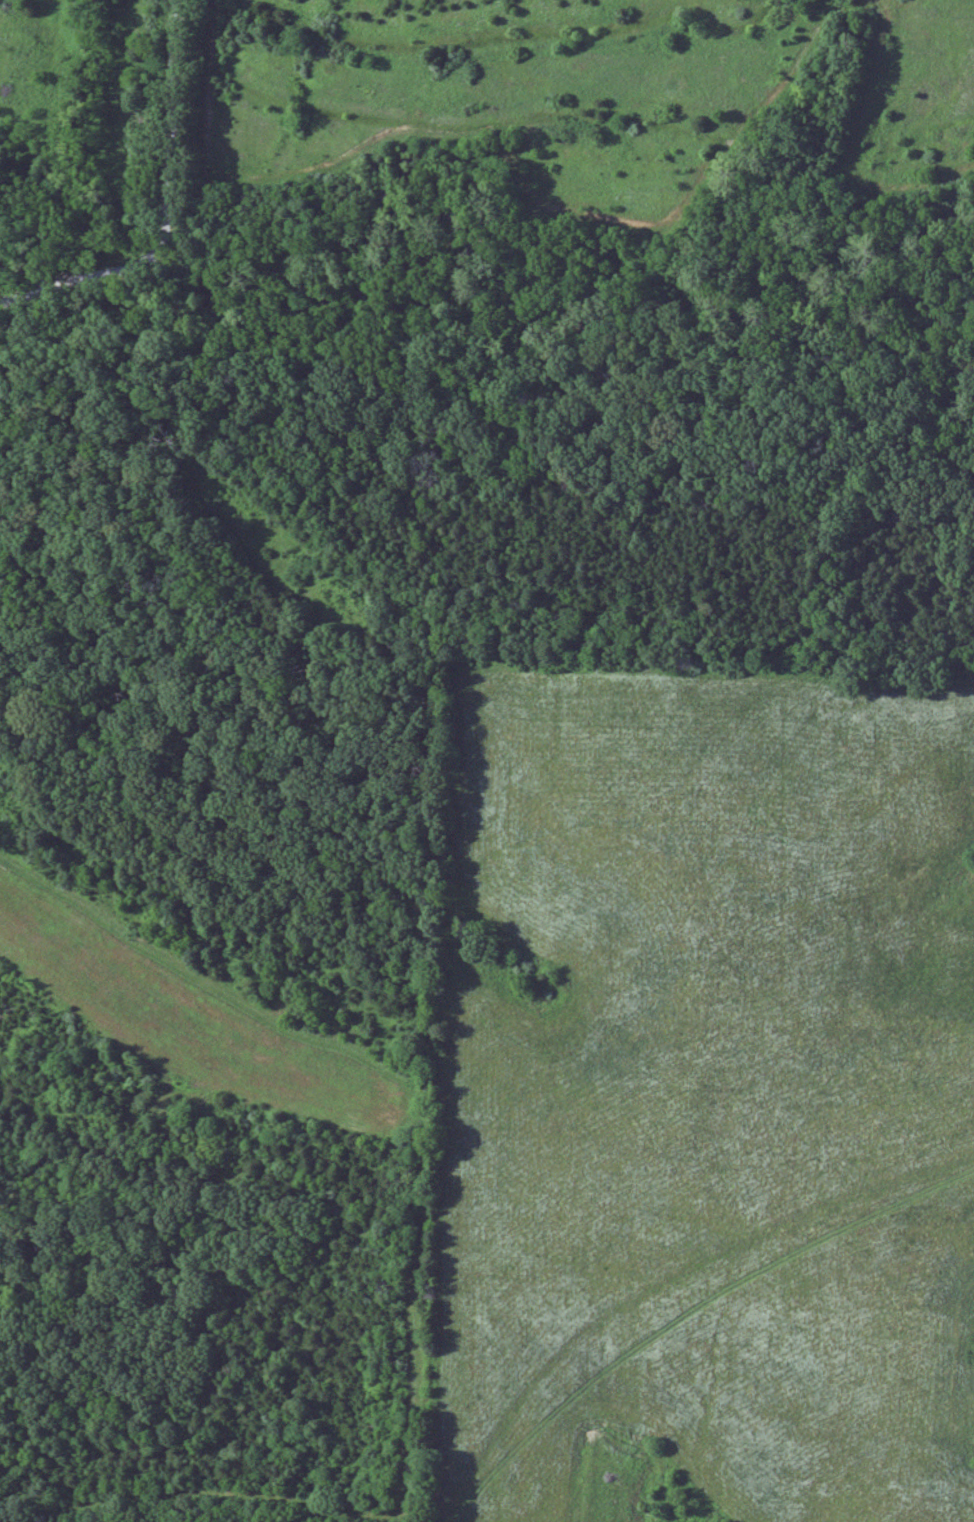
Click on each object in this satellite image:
road: (168, 209)

